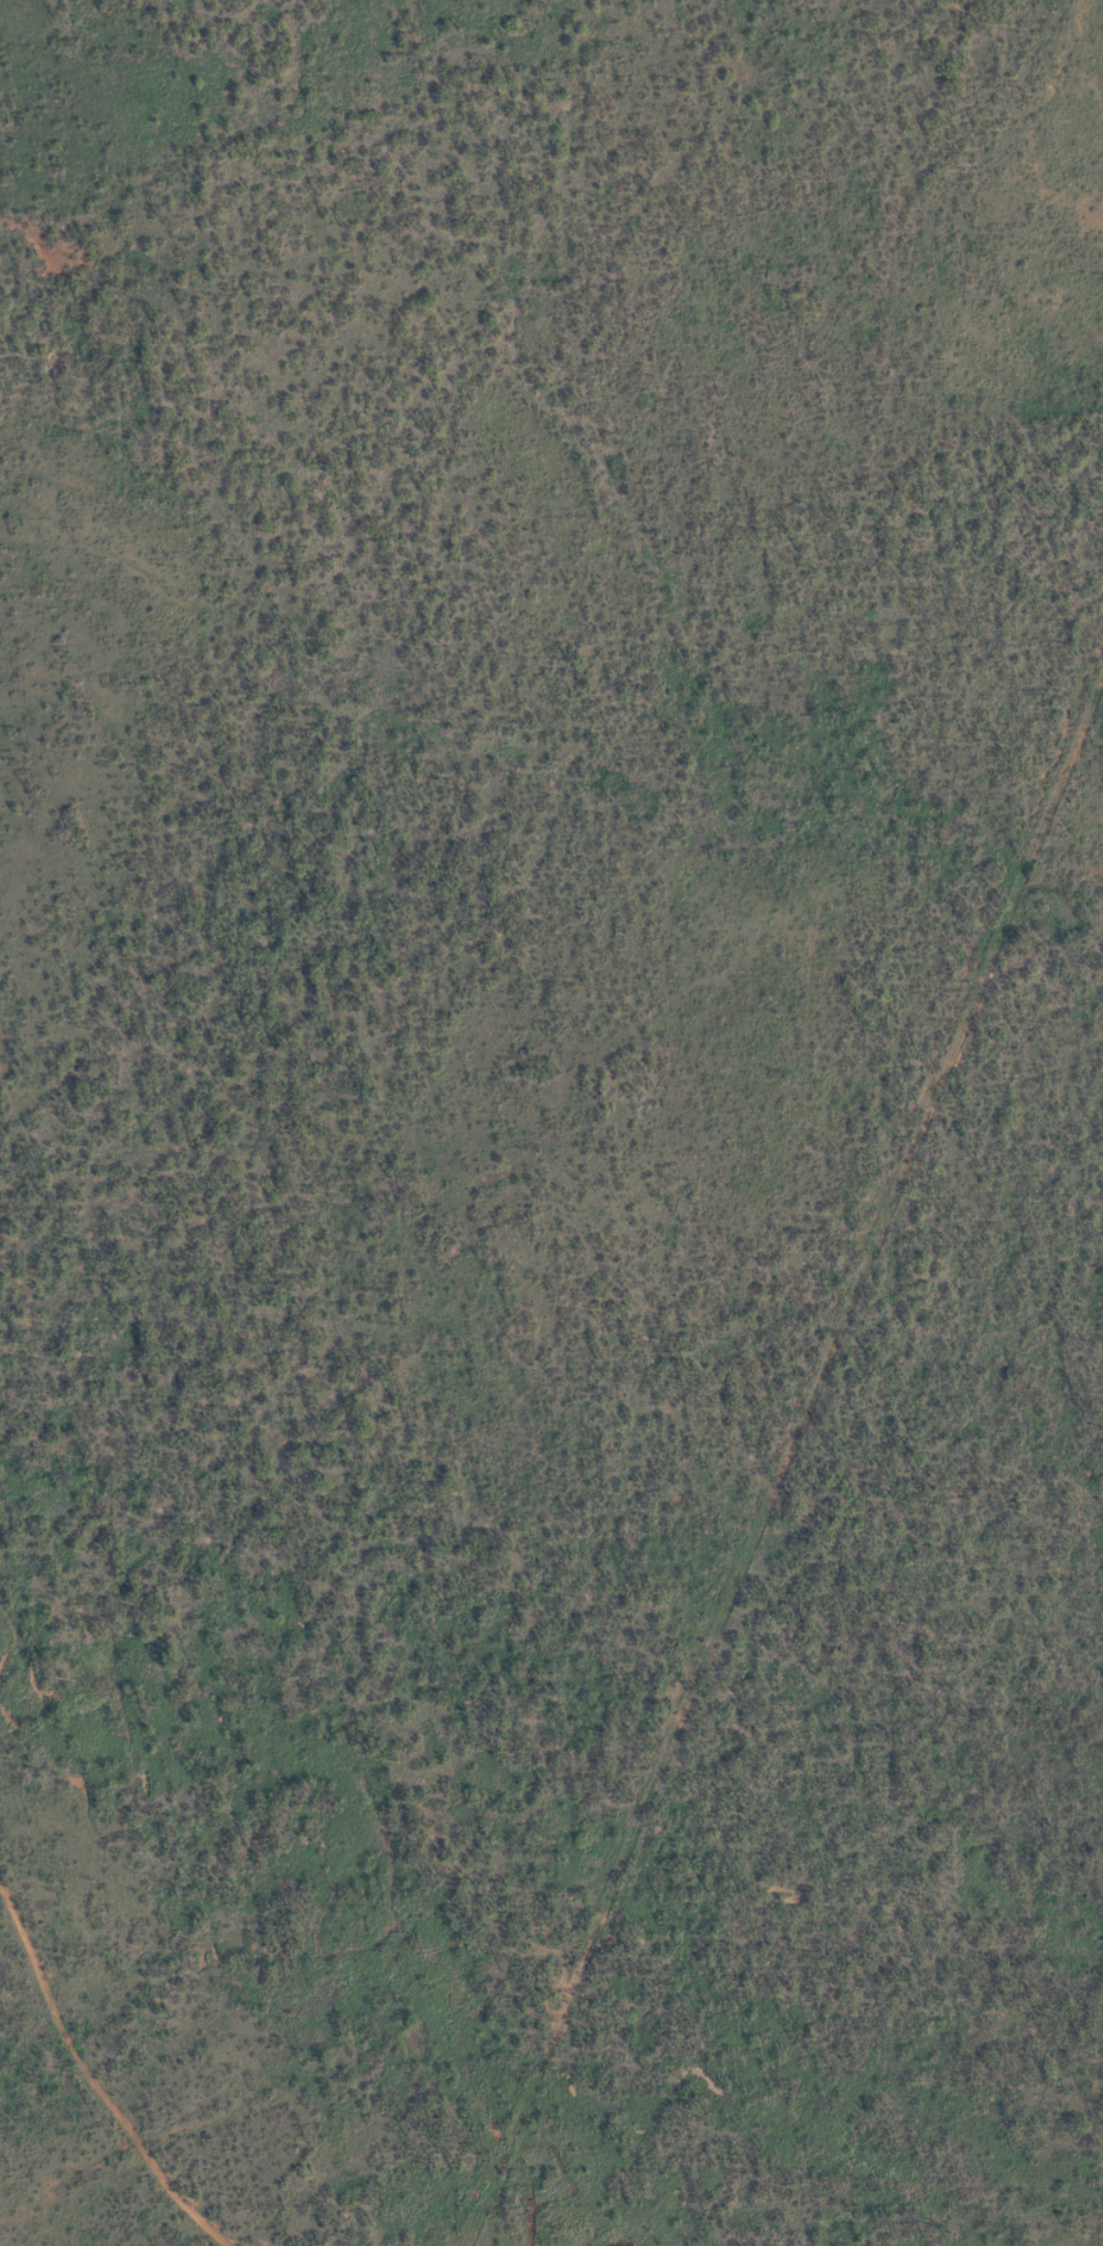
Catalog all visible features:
road: (95, 2062)

